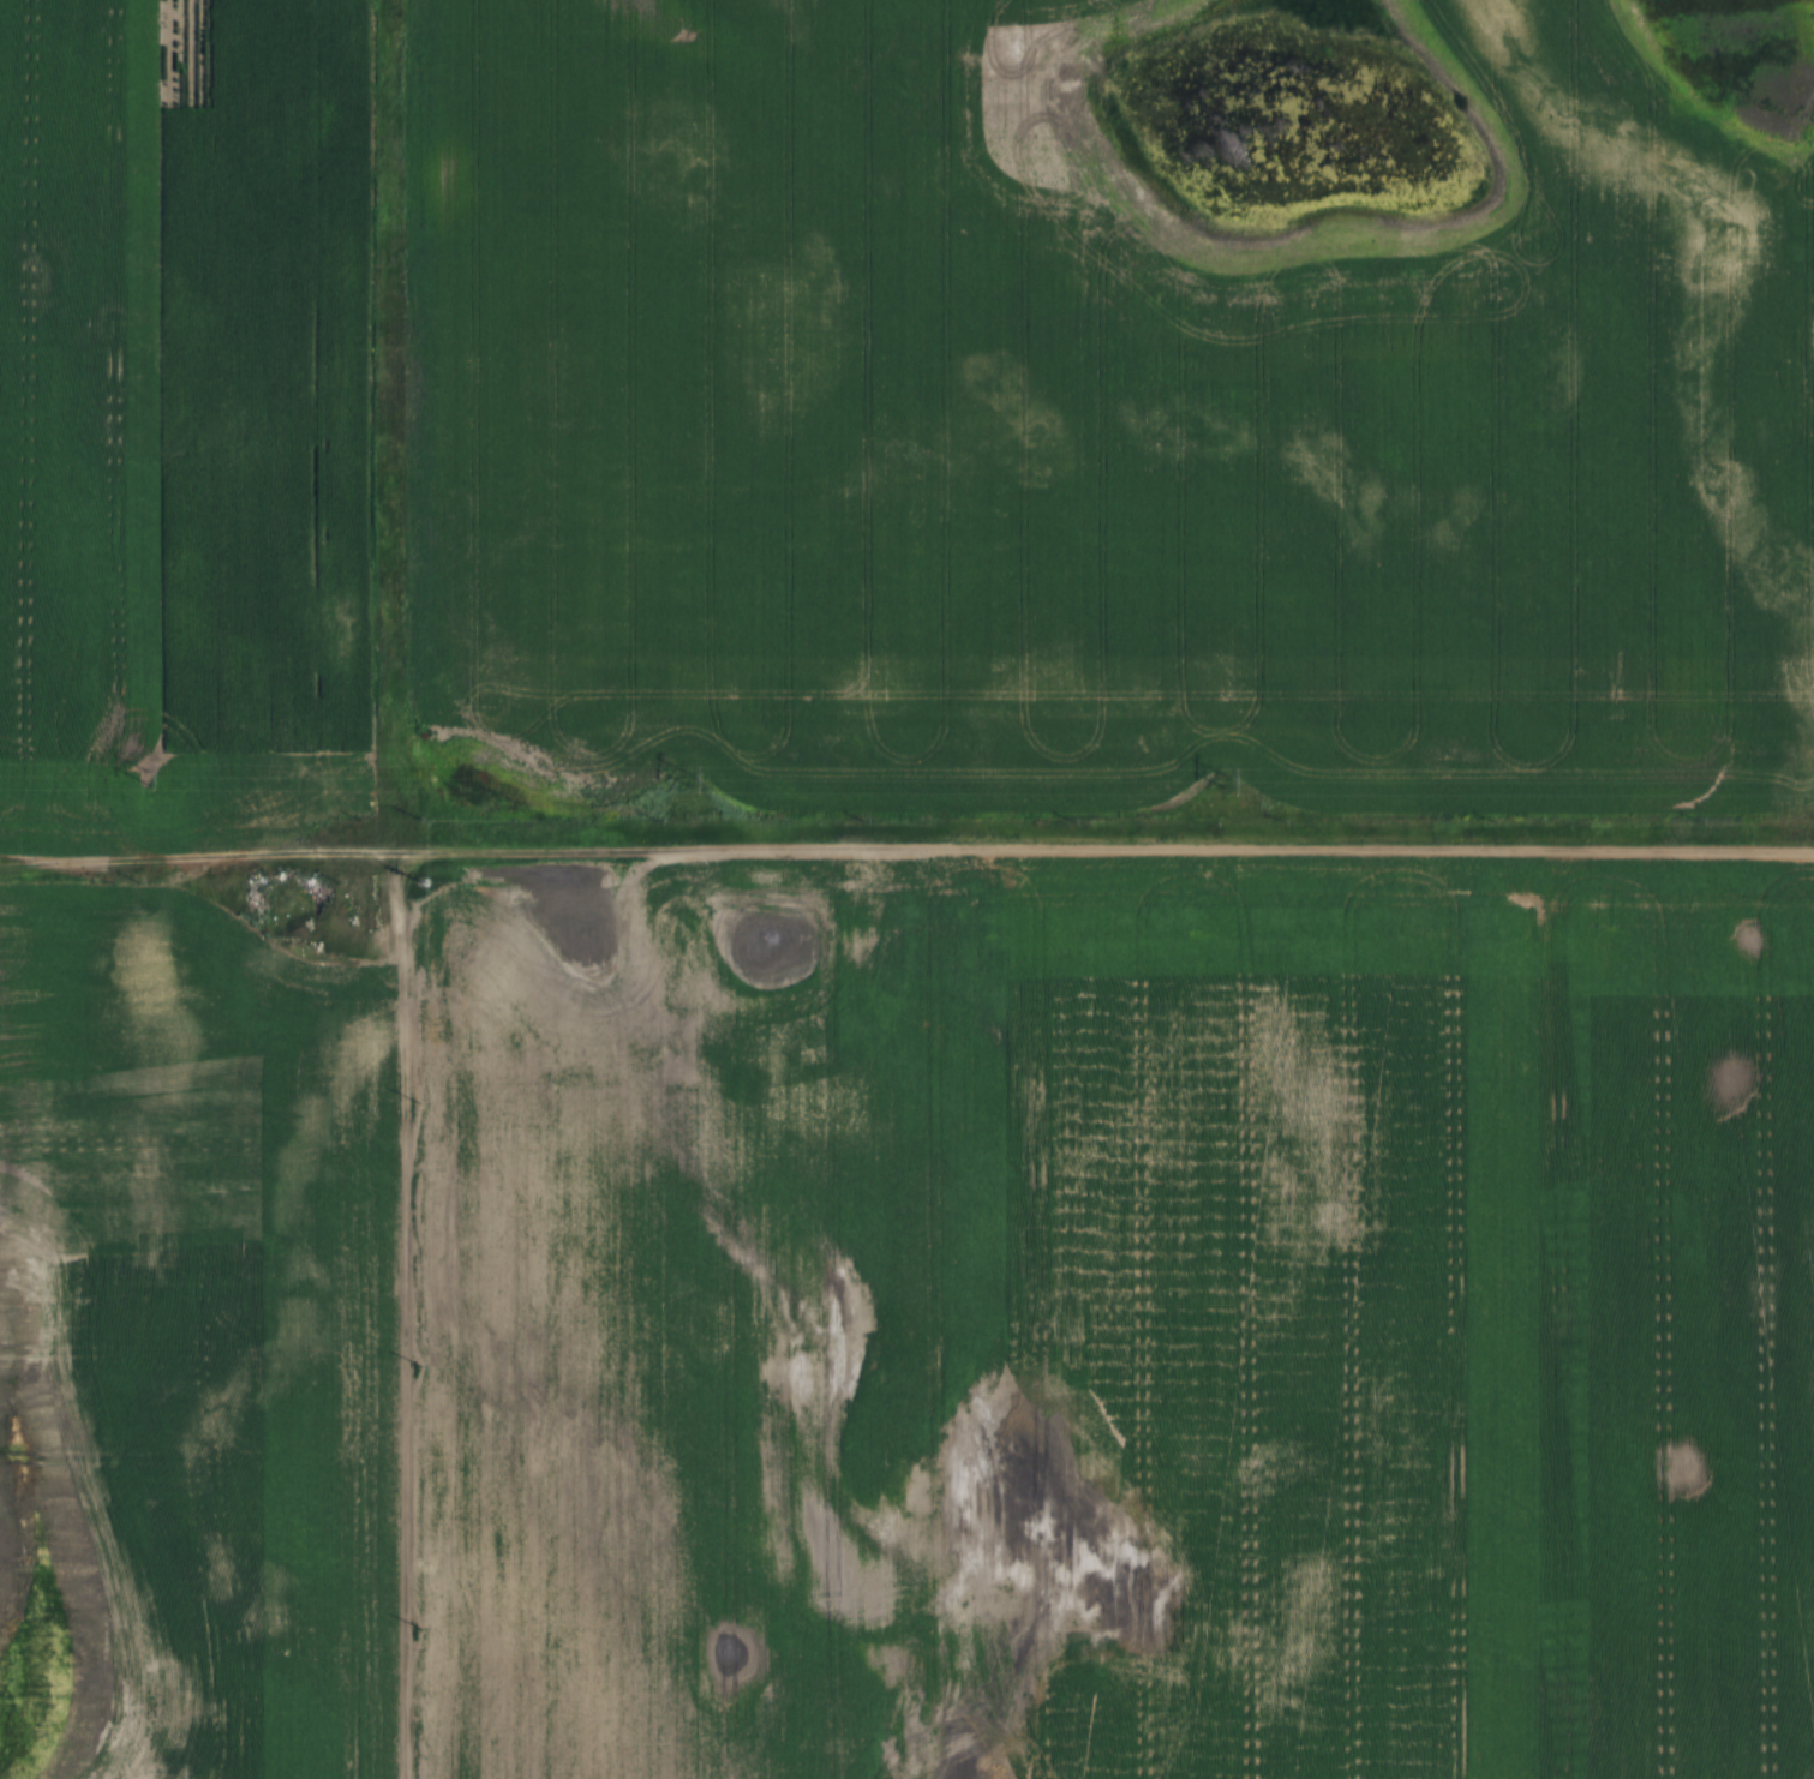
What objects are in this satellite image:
road: (906, 855)
road: (402, 1317)

